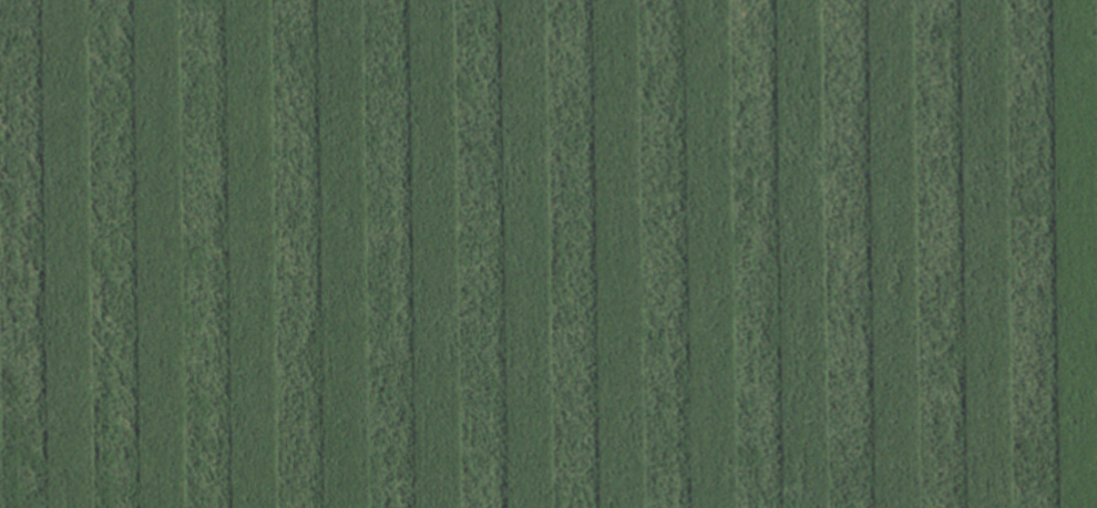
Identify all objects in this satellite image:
crop: (548, 253)

